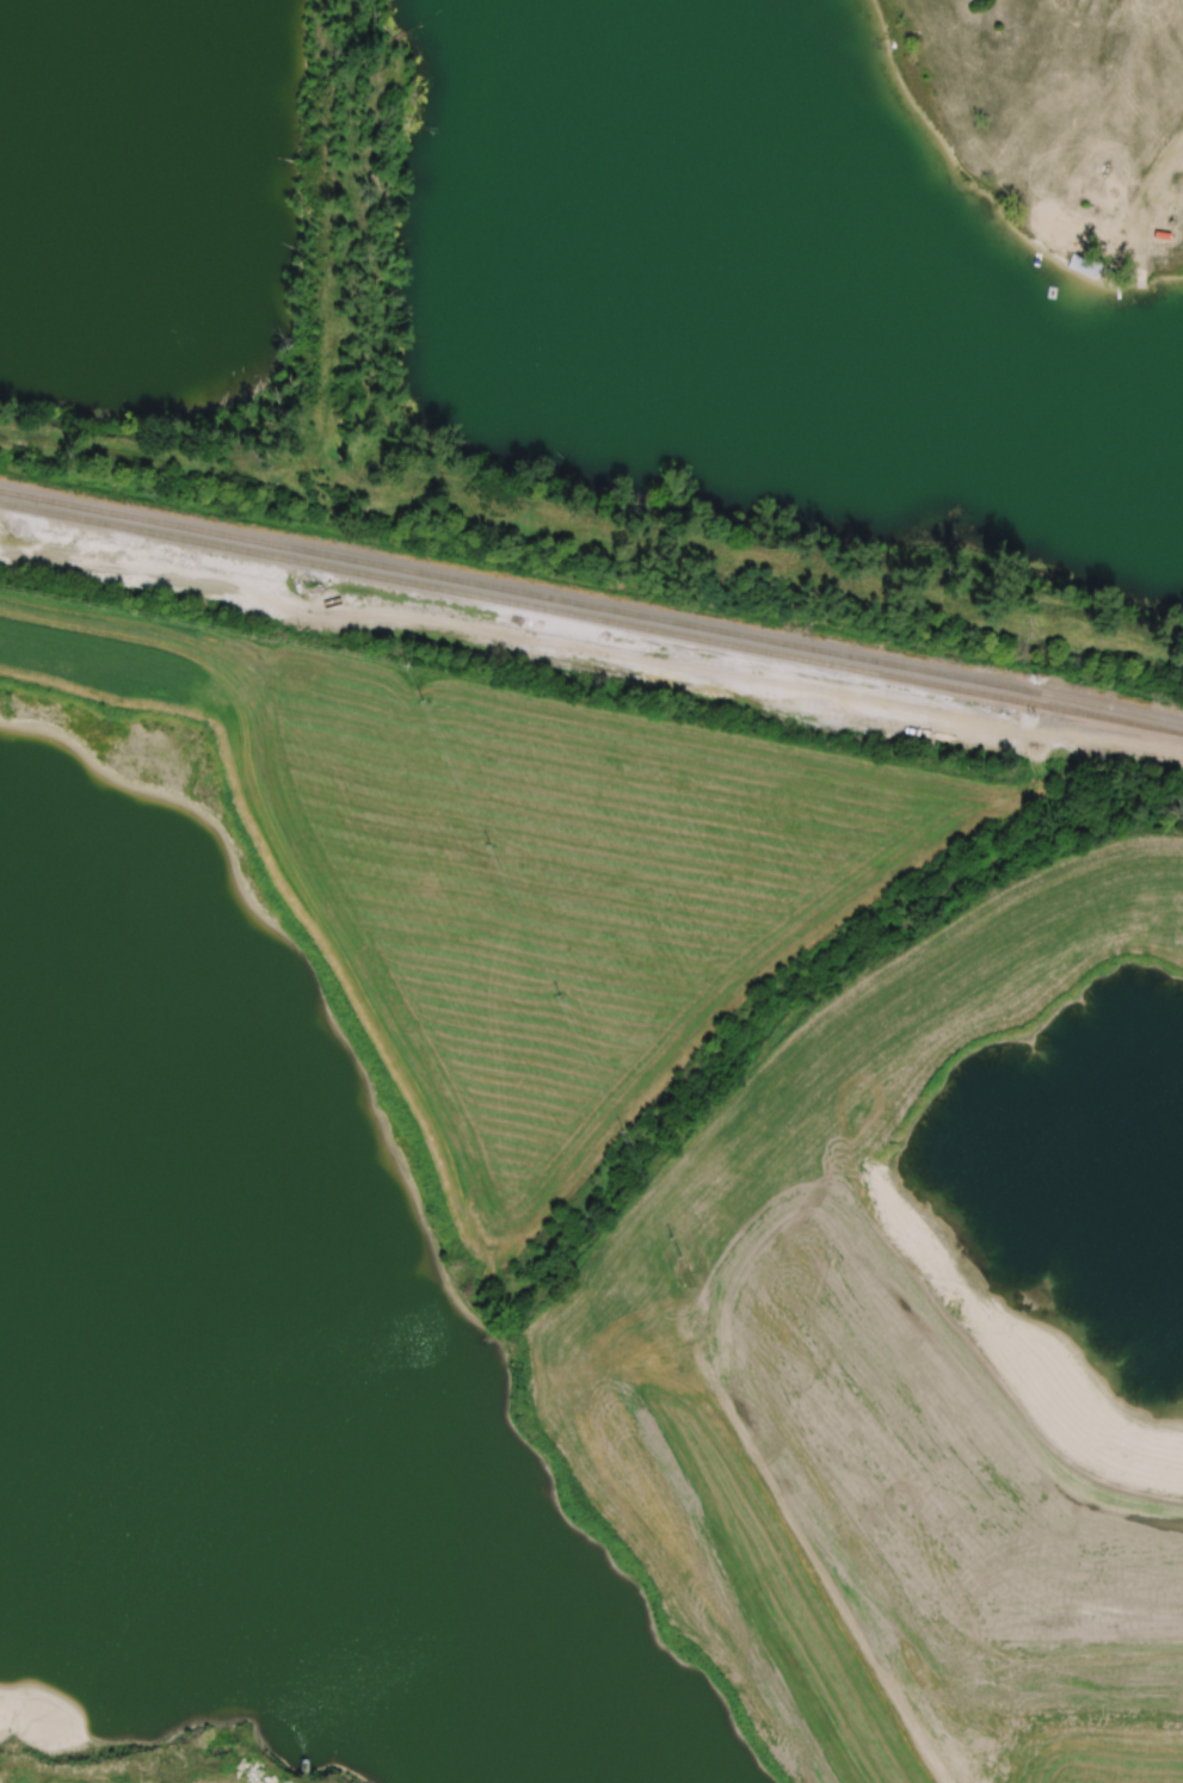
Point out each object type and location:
road: (1151, 208)
building: (1088, 265)
railway: (591, 607)
railway: (591, 615)

